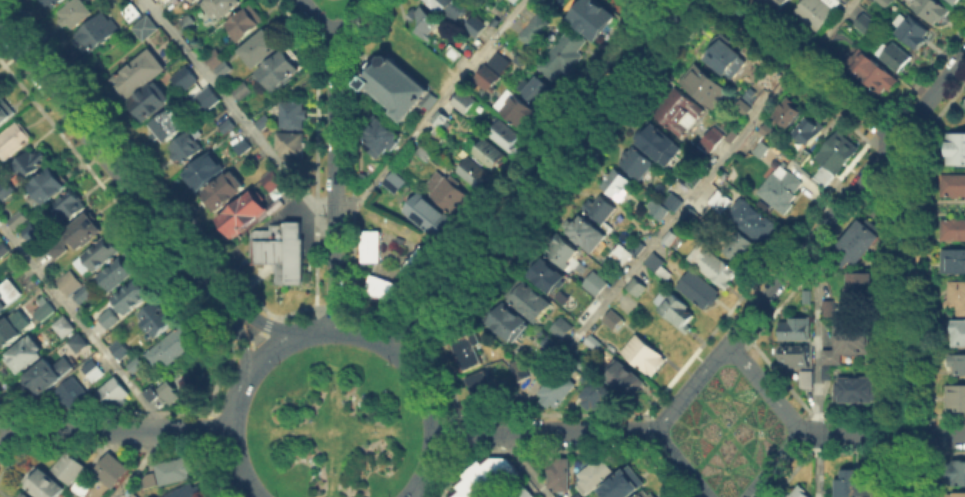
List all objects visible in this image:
building: (509, 0)
building: (512, 0)
building: (196, 1)
building: (201, 1)
building: (951, 1)
building: (54, 2)
building: (955, 2)
building: (170, 3)
building: (886, 3)
building: (776, 4)
building: (220, 8)
building: (451, 9)
building: (934, 10)
building: (131, 12)
building: (75, 14)
building: (819, 14)
building: (590, 16)
road: (350, 18)
road: (315, 19)
building: (866, 24)
building: (189, 25)
building: (425, 25)
building: (241, 27)
building: (477, 27)
building: (146, 29)
building: (531, 29)
building: (912, 31)
building: (97, 34)
building: (265, 48)
building: (458, 52)
building: (561, 53)
building: (214, 57)
building: (895, 57)
building: (730, 59)
building: (503, 63)
building: (225, 70)
road: (810, 70)
building: (280, 71)
building: (872, 73)
building: (139, 74)
building: (489, 78)
building: (186, 80)
building: (395, 85)
building: (706, 87)
building: (537, 88)
building: (246, 91)
building: (206, 101)
building: (151, 103)
building: (468, 104)
building: (964, 104)
building: (5, 108)
building: (744, 108)
road: (235, 110)
building: (516, 110)
building: (675, 110)
road: (432, 111)
building: (789, 113)
building: (294, 115)
building: (442, 117)
building: (264, 123)
building: (169, 126)
building: (228, 126)
building: (767, 129)
building: (808, 133)
building: (506, 135)
building: (380, 136)
building: (710, 137)
building: (14, 139)
building: (438, 139)
building: (660, 144)
building: (292, 147)
building: (245, 148)
building: (956, 148)
building: (186, 149)
building: (763, 150)
building: (836, 150)
building: (491, 154)
building: (803, 156)
building: (30, 164)
building: (638, 164)
road: (118, 171)
building: (205, 171)
building: (476, 174)
road: (543, 175)
building: (270, 179)
road: (333, 182)
building: (952, 183)
building: (396, 184)
building: (618, 184)
building: (47, 187)
building: (6, 189)
building: (783, 189)
building: (227, 190)
building: (450, 191)
road: (847, 198)
building: (722, 202)
building: (665, 203)
building: (70, 207)
building: (600, 209)
building: (241, 213)
building: (688, 213)
road: (681, 214)
building: (428, 217)
building: (17, 218)
building: (754, 220)
building: (952, 228)
building: (30, 232)
building: (85, 232)
building: (584, 232)
building: (370, 237)
building: (671, 239)
building: (861, 241)
building: (638, 243)
building: (56, 247)
building: (3, 248)
building: (279, 249)
building: (742, 249)
building: (369, 252)
building: (564, 253)
building: (98, 255)
building: (420, 255)
building: (956, 261)
building: (658, 265)
building: (411, 267)
building: (713, 268)
building: (546, 273)
building: (117, 275)
building: (70, 283)
building: (373, 283)
building: (596, 284)
building: (860, 284)
road: (908, 285)
building: (638, 287)
building: (389, 289)
building: (700, 291)
building: (85, 292)
building: (8, 295)
building: (134, 296)
building: (808, 297)
building: (529, 299)
building: (957, 300)
building: (586, 304)
road: (337, 308)
building: (676, 310)
building: (45, 311)
building: (151, 311)
building: (829, 311)
road: (298, 312)
road: (372, 316)
building: (110, 320)
building: (160, 321)
building: (614, 321)
building: (511, 323)
road: (81, 325)
road: (268, 325)
building: (66, 328)
building: (563, 328)
building: (797, 330)
building: (9, 332)
building: (960, 332)
road: (409, 333)
road: (256, 337)
building: (548, 342)
building: (80, 343)
building: (172, 343)
building: (853, 343)
road: (241, 344)
building: (598, 344)
building: (118, 347)
building: (464, 347)
road: (268, 350)
building: (28, 353)
building: (646, 356)
building: (796, 356)
building: (68, 364)
building: (134, 365)
building: (960, 365)
road: (411, 366)
building: (89, 367)
building: (518, 368)
road: (818, 371)
building: (828, 373)
building: (98, 374)
building: (44, 376)
road: (443, 378)
building: (626, 378)
building: (809, 381)
road: (219, 382)
building: (481, 386)
road: (691, 387)
road: (764, 388)
building: (858, 390)
building: (560, 391)
building: (72, 393)
building: (116, 393)
building: (166, 397)
building: (599, 398)
building: (955, 399)
road: (5, 421)
park: (331, 424)
road: (119, 430)
road: (544, 431)
road: (212, 432)
road: (451, 433)
road: (854, 434)
road: (936, 435)
road: (5, 438)
road: (229, 439)
road: (681, 464)
road: (775, 465)
road: (138, 466)
building: (505, 466)
road: (527, 466)
road: (908, 466)
building: (71, 467)
building: (176, 469)
building: (111, 470)
building: (957, 471)
road: (219, 472)
road: (451, 472)
building: (495, 472)
building: (559, 477)
building: (596, 477)
building: (480, 479)
building: (149, 480)
building: (854, 484)
building: (48, 485)
building: (626, 485)
building: (83, 487)
road: (413, 489)
road: (420, 489)
building: (465, 489)
building: (186, 491)
building: (799, 492)
building: (648, 494)
building: (957, 494)
building: (24, 495)

